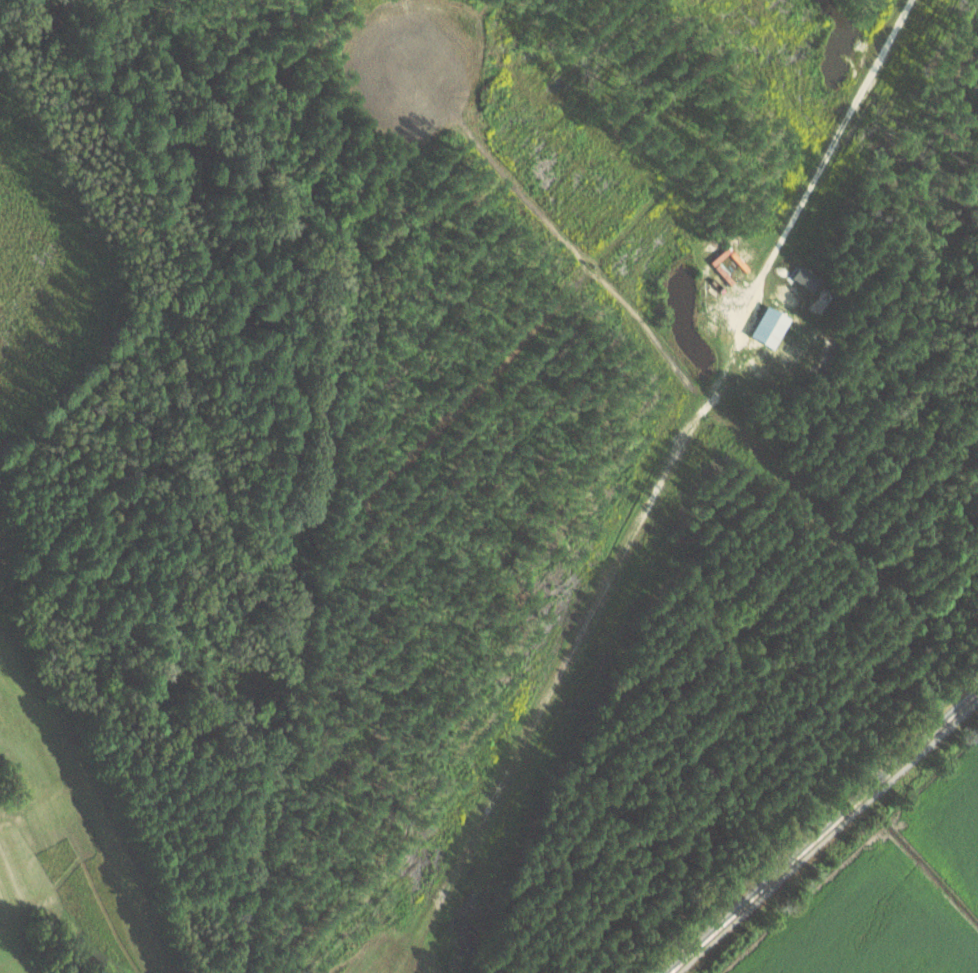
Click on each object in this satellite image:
building: (808, 277)
building: (773, 325)
railway: (824, 833)

